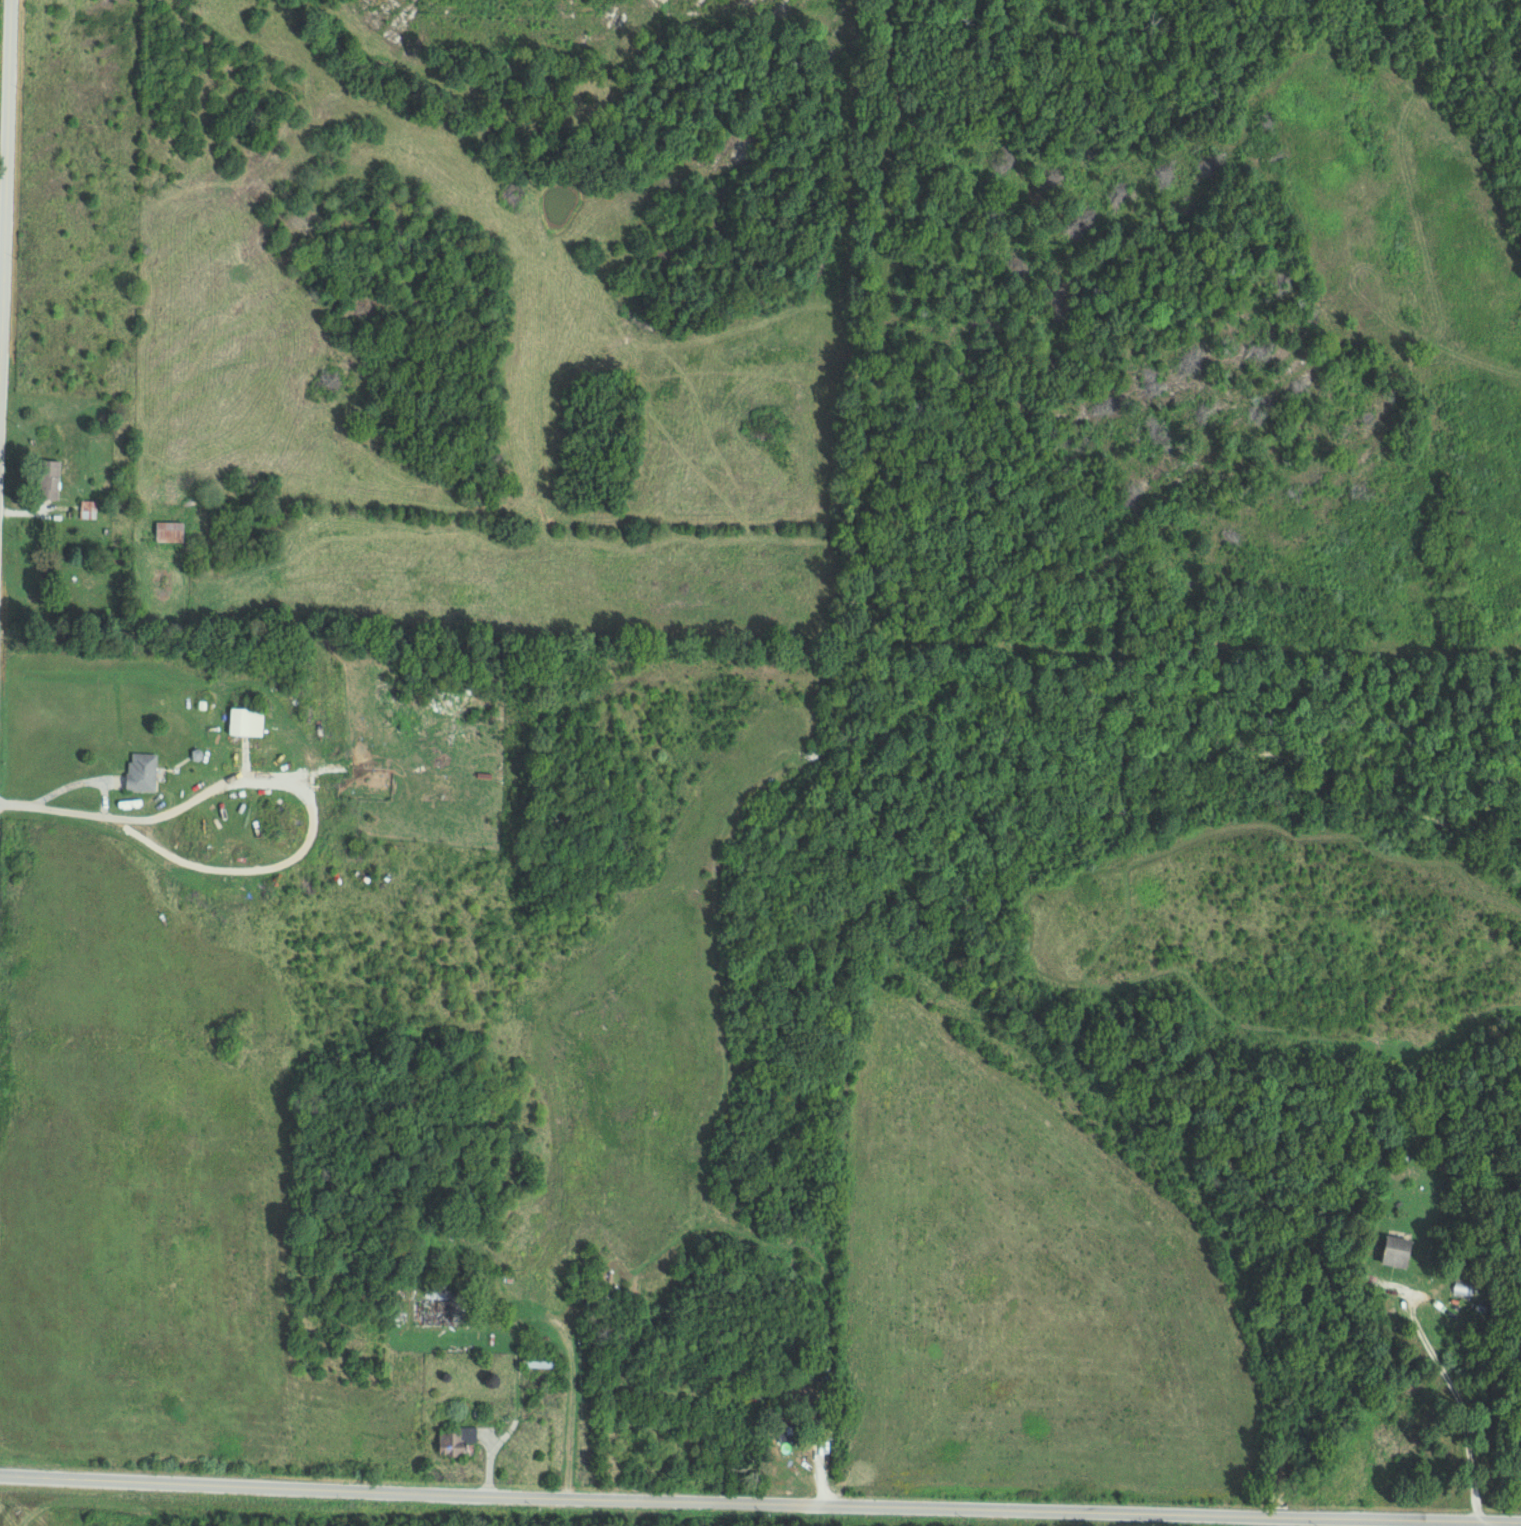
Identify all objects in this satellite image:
road: (5, 266)
building: (49, 480)
building: (170, 532)
building: (246, 721)
building: (141, 772)
building: (1402, 1251)
building: (1464, 1288)
building: (437, 1313)
building: (540, 1361)
building: (788, 1438)
building: (457, 1442)
road: (632, 1500)

